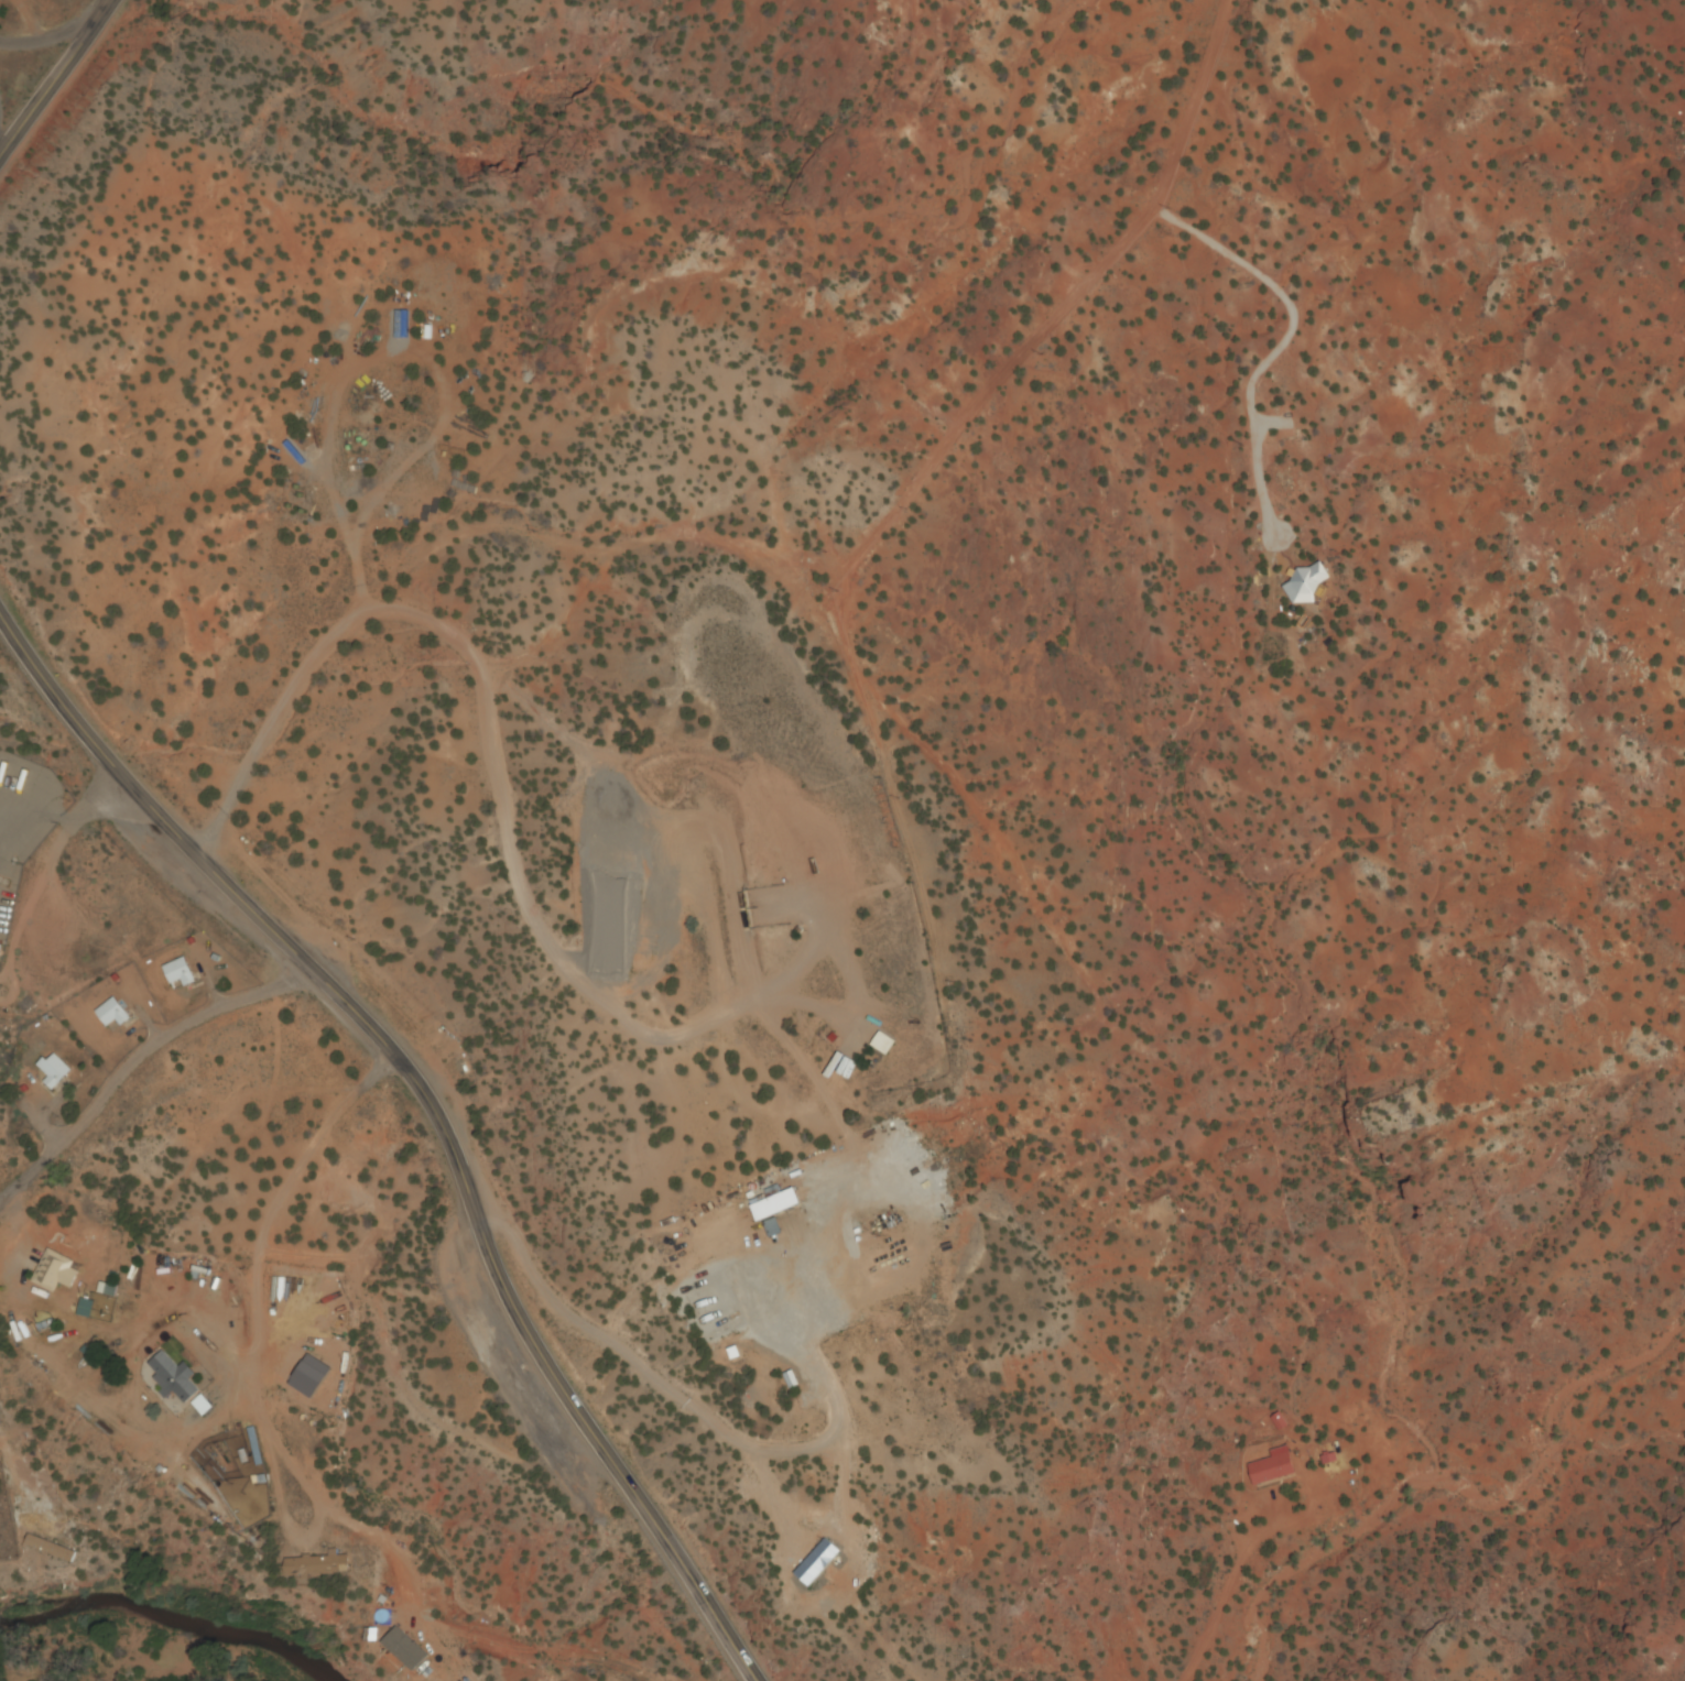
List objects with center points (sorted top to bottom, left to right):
road: (54, 36)
road: (57, 76)
road: (960, 410)
building: (1306, 586)
road: (483, 720)
road: (143, 801)
road: (97, 809)
building: (180, 973)
building: (112, 1014)
road: (134, 1059)
building: (55, 1071)
building: (776, 1207)
building: (773, 1230)
building: (55, 1273)
road: (253, 1310)
road: (523, 1327)
building: (174, 1377)
building: (792, 1379)
road: (659, 1389)
building: (1279, 1422)
building: (1271, 1471)
park: (6, 1524)
building: (52, 1549)
building: (318, 1567)
road: (1221, 1598)

